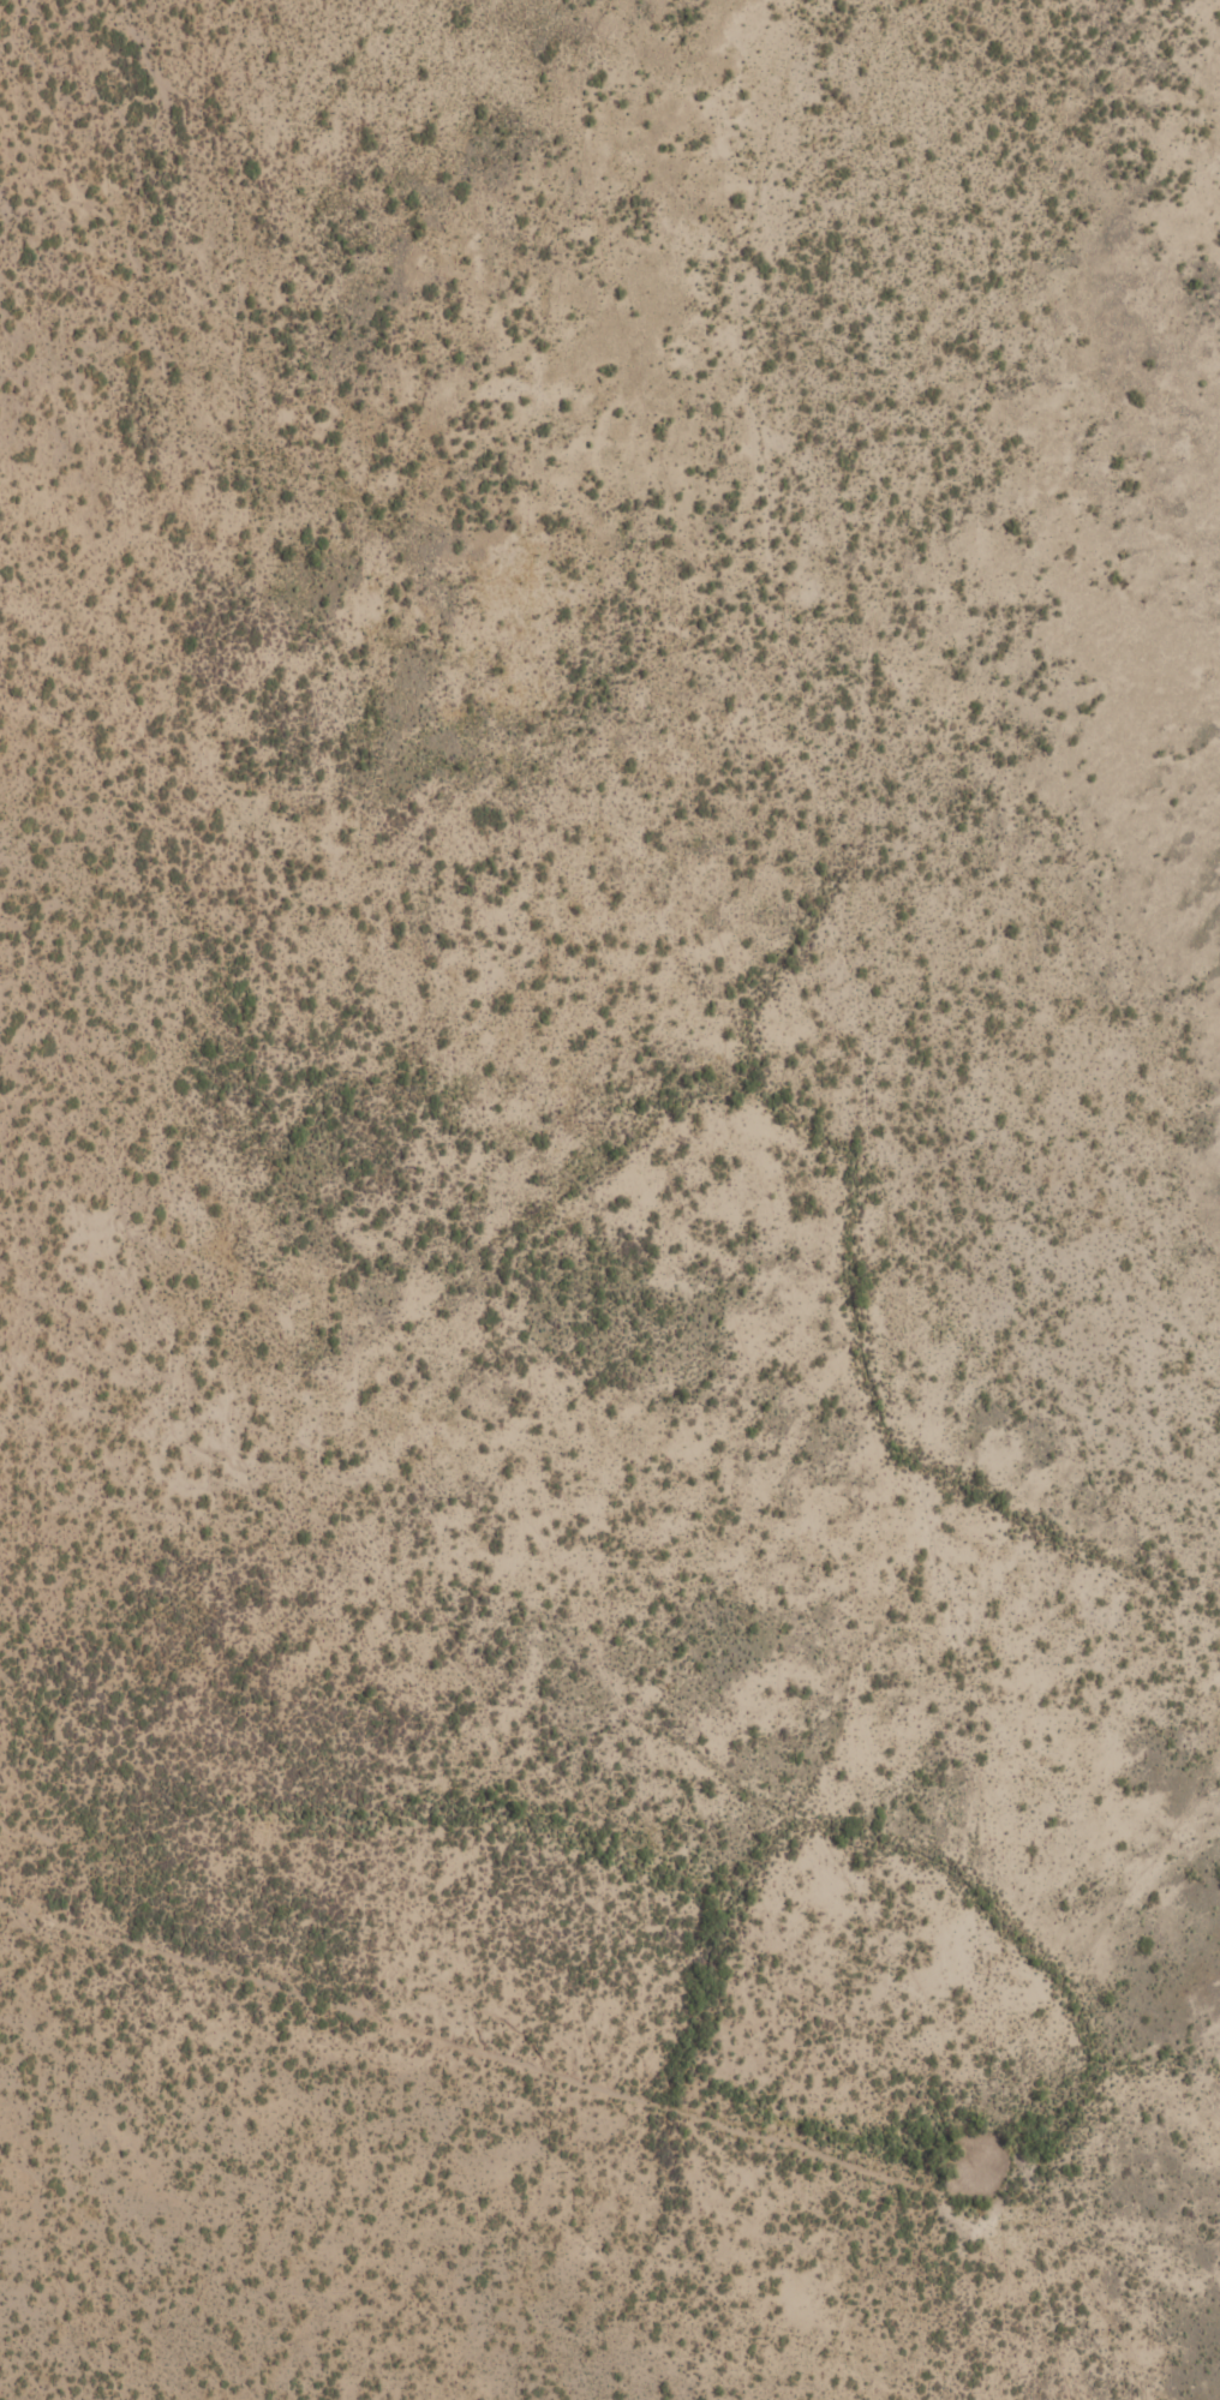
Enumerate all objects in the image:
road: (610, 2087)

